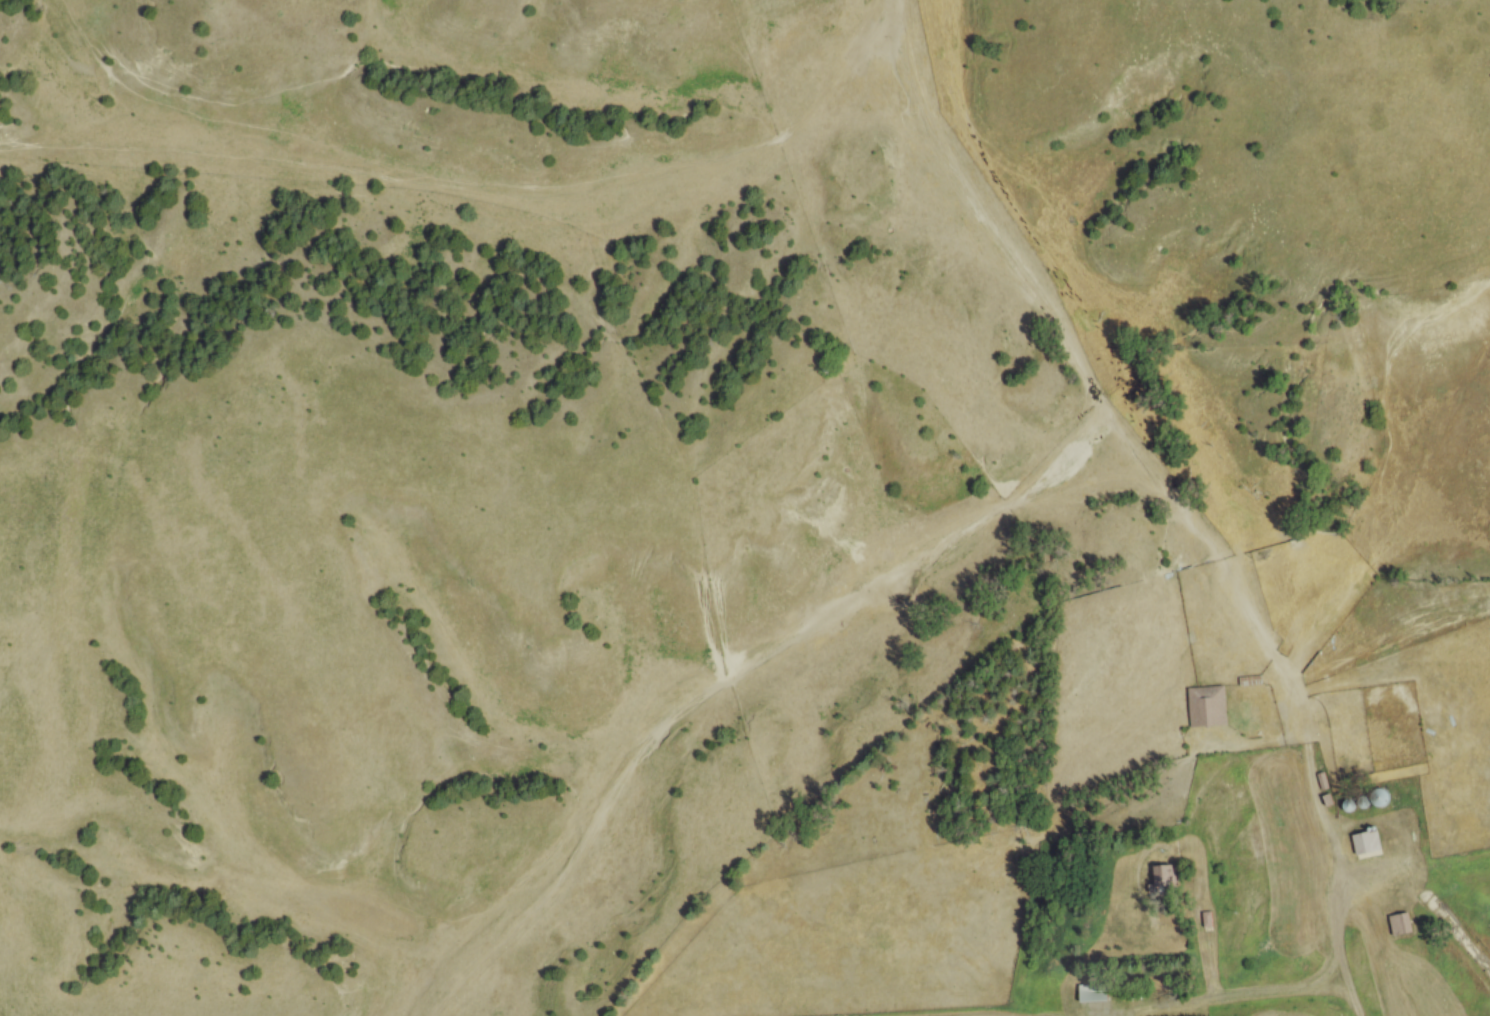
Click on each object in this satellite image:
building: (1324, 551)
building: (1209, 709)
building: (1369, 846)
building: (1168, 882)
building: (1401, 927)
road: (1268, 991)
building: (1096, 999)

